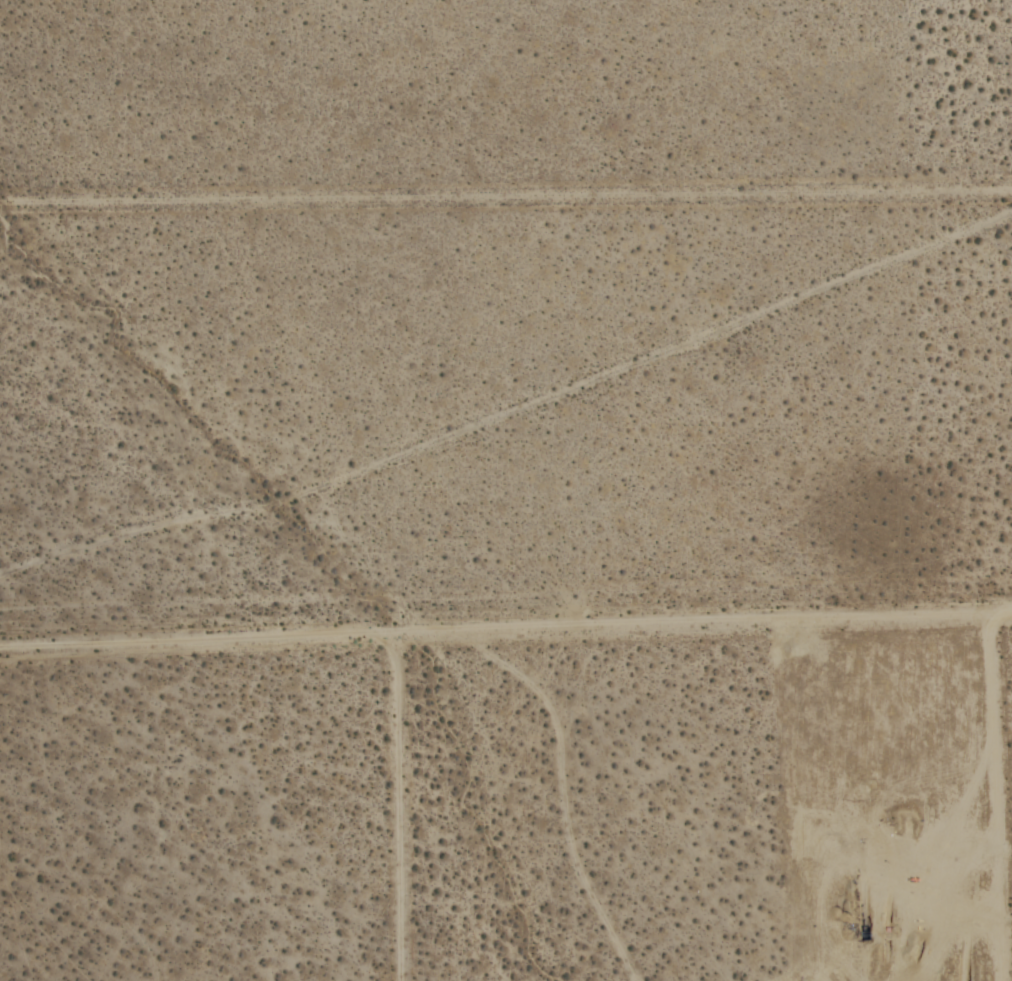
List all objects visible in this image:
road: (505, 629)

